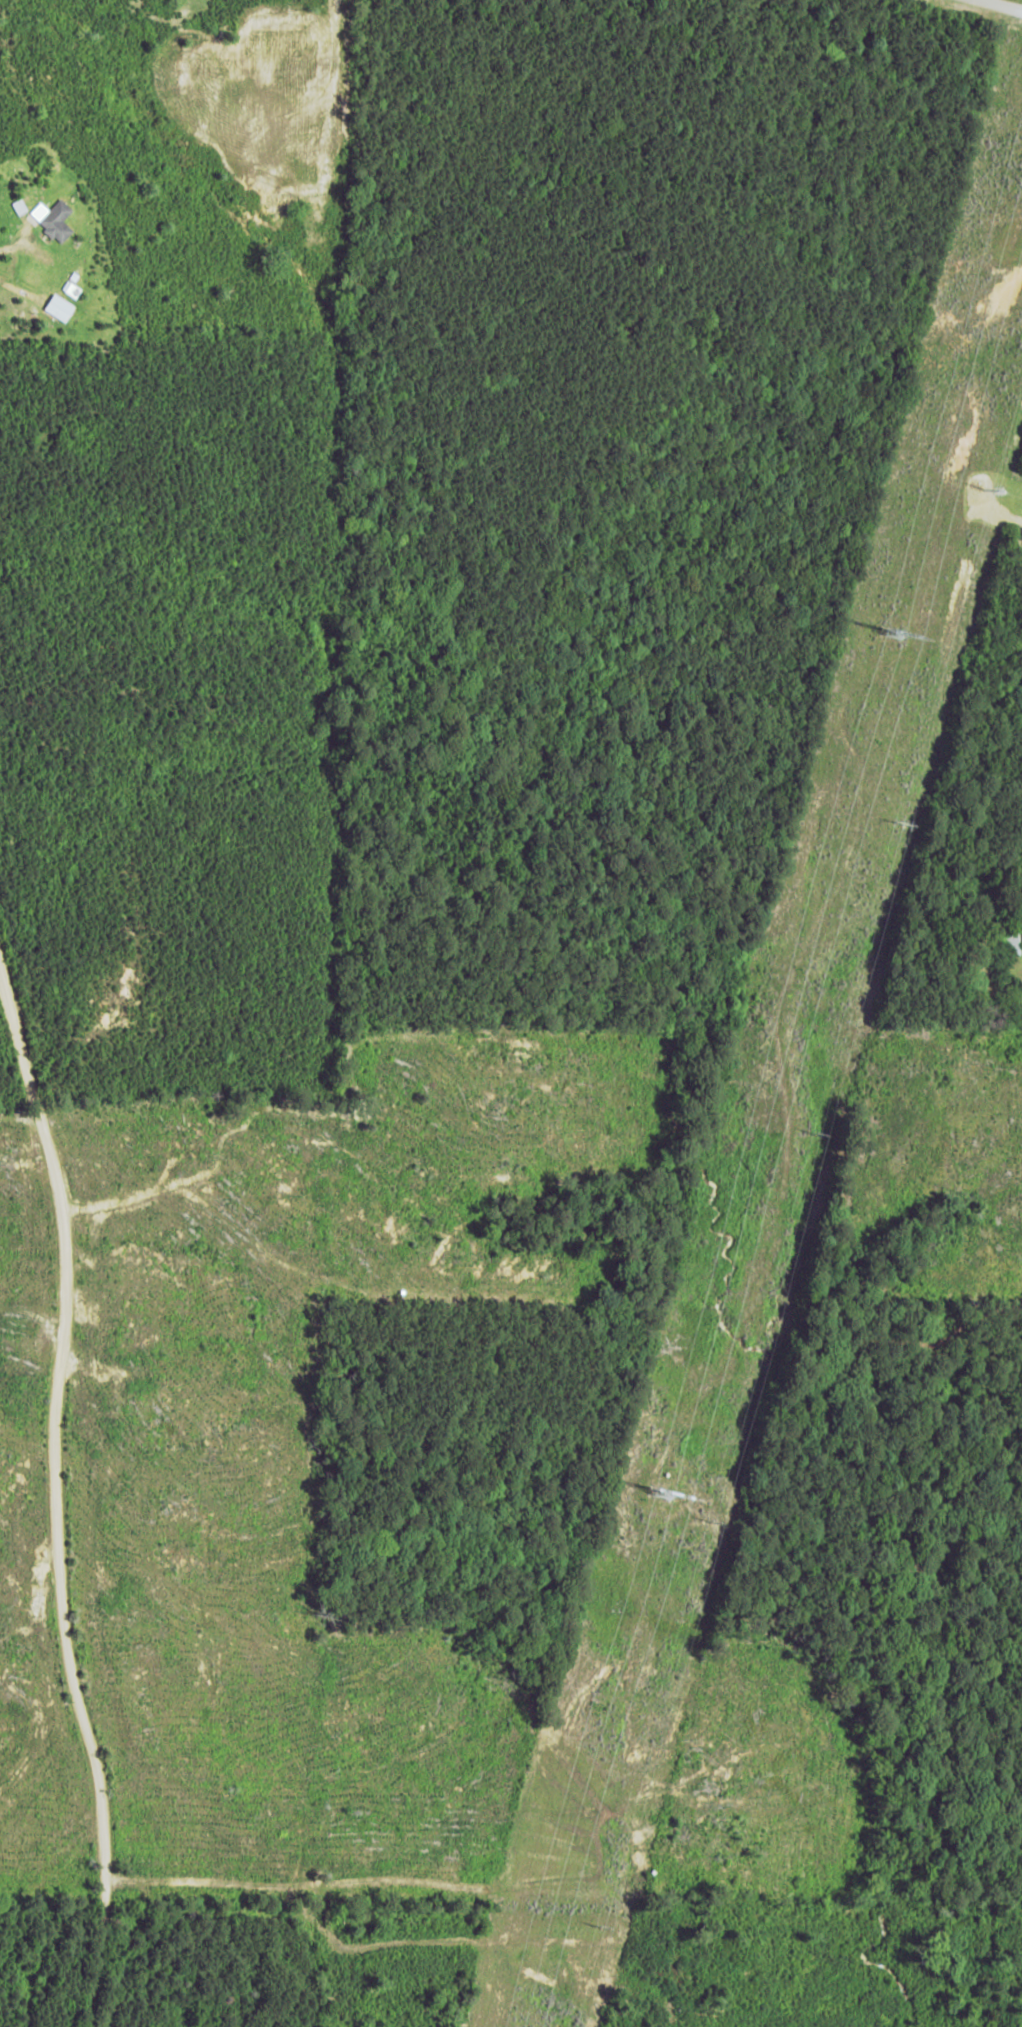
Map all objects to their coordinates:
road: (985, 19)
building: (53, 219)
building: (60, 308)
power tower: (890, 633)
power tower: (655, 1494)
road: (67, 1525)

